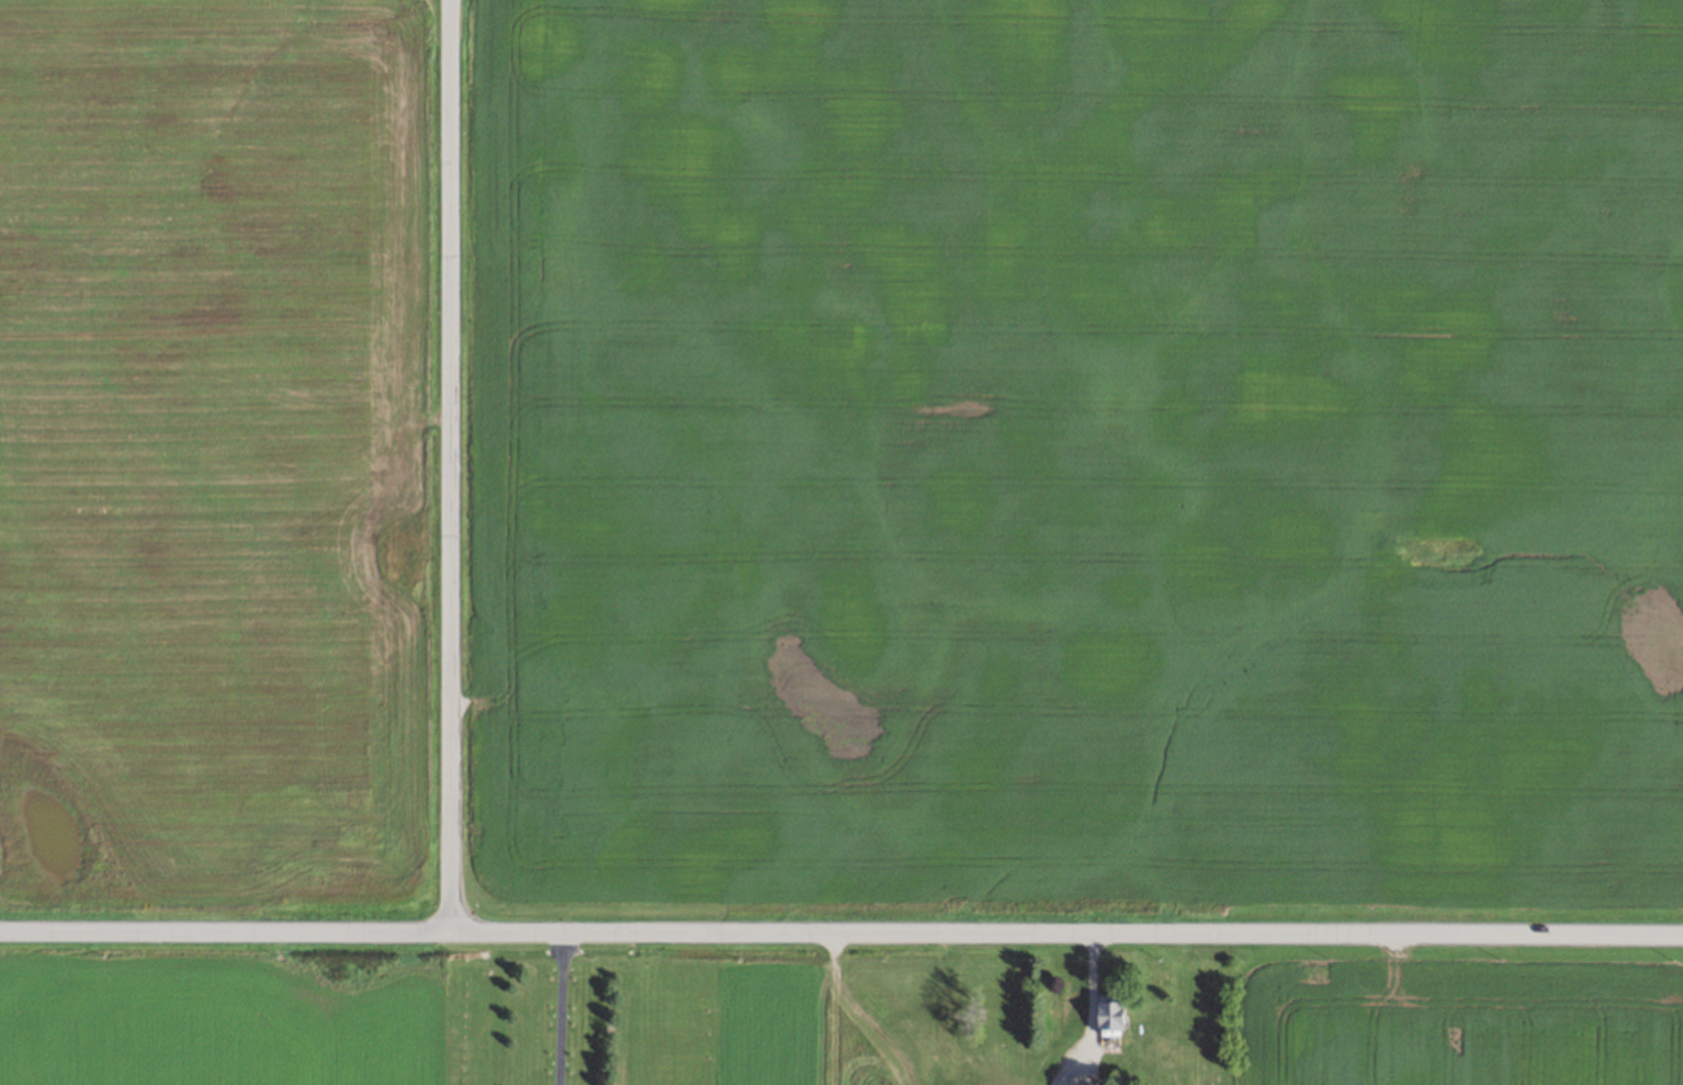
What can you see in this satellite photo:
crop: (1083, 447)
crop: (212, 451)
road: (450, 466)
road: (840, 929)
road: (562, 1008)
road: (866, 1009)
road: (1088, 1011)
building: (1110, 1015)

